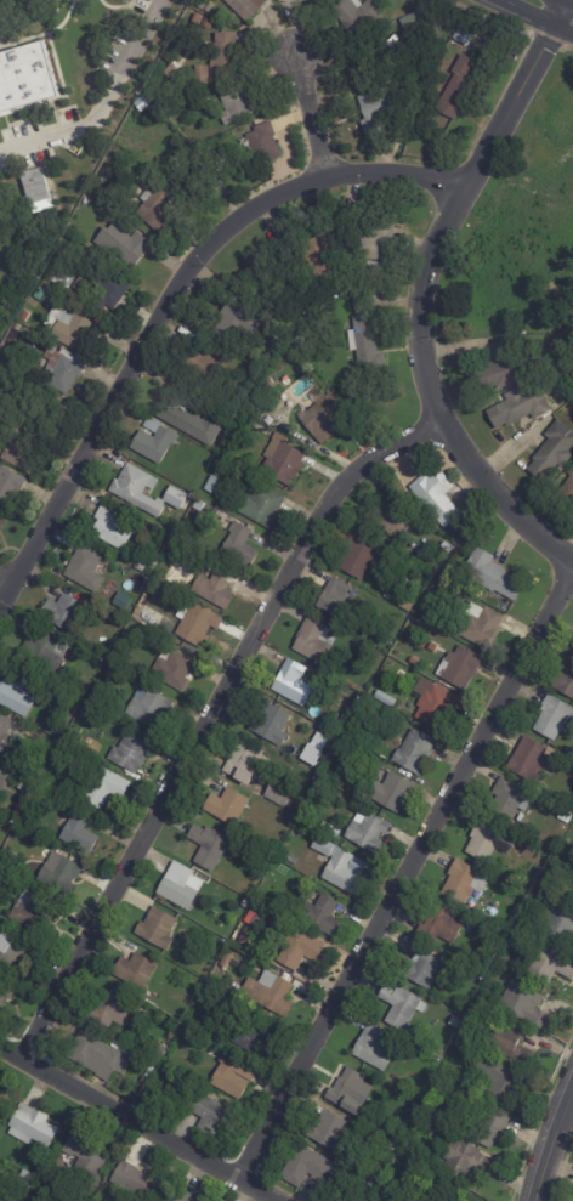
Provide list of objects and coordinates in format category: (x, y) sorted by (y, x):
building: (294, 0)
building: (317, 0)
road: (572, 0)
building: (202, 5)
building: (249, 7)
building: (362, 15)
building: (202, 17)
road: (532, 17)
building: (414, 21)
building: (210, 22)
building: (469, 32)
building: (228, 56)
building: (205, 74)
building: (24, 75)
building: (461, 81)
building: (221, 100)
building: (146, 102)
building: (242, 102)
road: (102, 104)
building: (381, 111)
road: (311, 113)
building: (267, 142)
building: (56, 164)
building: (199, 179)
building: (39, 191)
building: (89, 200)
building: (160, 206)
building: (385, 234)
building: (330, 244)
building: (135, 245)
building: (381, 268)
building: (83, 284)
building: (113, 287)
building: (274, 287)
road: (419, 291)
road: (168, 299)
building: (245, 318)
building: (75, 328)
building: (367, 339)
building: (53, 345)
building: (206, 359)
building: (67, 367)
building: (501, 370)
building: (239, 376)
building: (270, 384)
building: (6, 402)
building: (516, 406)
building: (558, 409)
building: (327, 415)
building: (195, 421)
building: (246, 425)
building: (158, 440)
building: (550, 451)
building: (24, 452)
building: (203, 457)
building: (285, 459)
building: (223, 460)
building: (214, 485)
building: (11, 486)
building: (567, 488)
building: (141, 489)
building: (182, 493)
building: (441, 495)
building: (174, 497)
building: (266, 504)
building: (395, 514)
building: (2, 521)
building: (115, 527)
building: (163, 534)
building: (243, 545)
building: (452, 546)
building: (362, 555)
building: (172, 556)
building: (158, 559)
building: (89, 568)
building: (495, 574)
road: (5, 578)
building: (157, 585)
building: (219, 588)
building: (460, 594)
building: (342, 601)
building: (407, 604)
building: (66, 612)
building: (442, 619)
building: (121, 621)
building: (200, 624)
building: (483, 624)
building: (376, 630)
building: (134, 631)
building: (141, 639)
building: (317, 640)
building: (386, 640)
building: (45, 652)
building: (463, 669)
building: (177, 670)
building: (316, 679)
building: (566, 681)
building: (296, 682)
building: (85, 691)
building: (18, 693)
building: (387, 697)
building: (439, 703)
building: (152, 707)
building: (556, 716)
road: (208, 719)
building: (342, 719)
building: (273, 724)
building: (7, 733)
building: (314, 748)
building: (132, 750)
building: (418, 752)
building: (532, 759)
building: (250, 764)
building: (333, 771)
building: (566, 774)
building: (7, 775)
building: (108, 787)
building: (282, 792)
building: (396, 792)
building: (23, 798)
building: (510, 798)
building: (231, 806)
building: (297, 808)
building: (33, 811)
building: (307, 816)
building: (567, 817)
building: (294, 821)
building: (83, 832)
building: (371, 832)
building: (240, 833)
building: (493, 840)
building: (211, 845)
building: (356, 845)
building: (22, 851)
building: (17, 862)
building: (341, 866)
road: (405, 872)
building: (62, 873)
building: (467, 882)
building: (182, 885)
building: (572, 897)
building: (249, 903)
building: (260, 908)
building: (35, 912)
building: (324, 914)
building: (261, 922)
building: (562, 922)
building: (443, 925)
building: (160, 928)
building: (248, 935)
building: (302, 947)
building: (15, 952)
building: (489, 957)
building: (551, 961)
building: (227, 963)
building: (425, 969)
building: (140, 971)
building: (274, 993)
building: (6, 996)
building: (529, 1005)
building: (404, 1007)
building: (117, 1009)
building: (257, 1033)
building: (125, 1038)
building: (507, 1039)
building: (375, 1049)
building: (160, 1050)
building: (103, 1056)
building: (153, 1073)
building: (233, 1073)
building: (501, 1077)
building: (353, 1088)
building: (144, 1089)
building: (157, 1095)
building: (4, 1104)
building: (359, 1109)
road: (568, 1109)
building: (211, 1112)
building: (487, 1118)
road: (140, 1123)
building: (38, 1127)
building: (333, 1131)
road: (550, 1144)
building: (87, 1157)
building: (466, 1158)
building: (382, 1162)
building: (314, 1172)
building: (374, 1173)
building: (32, 1177)
building: (140, 1182)
building: (52, 1191)
building: (463, 1191)
building: (0, 1194)
building: (182, 1197)
building: (391, 1197)
building: (1, 1199)
building: (46, 1199)
building: (53, 1200)
building: (110, 1200)

